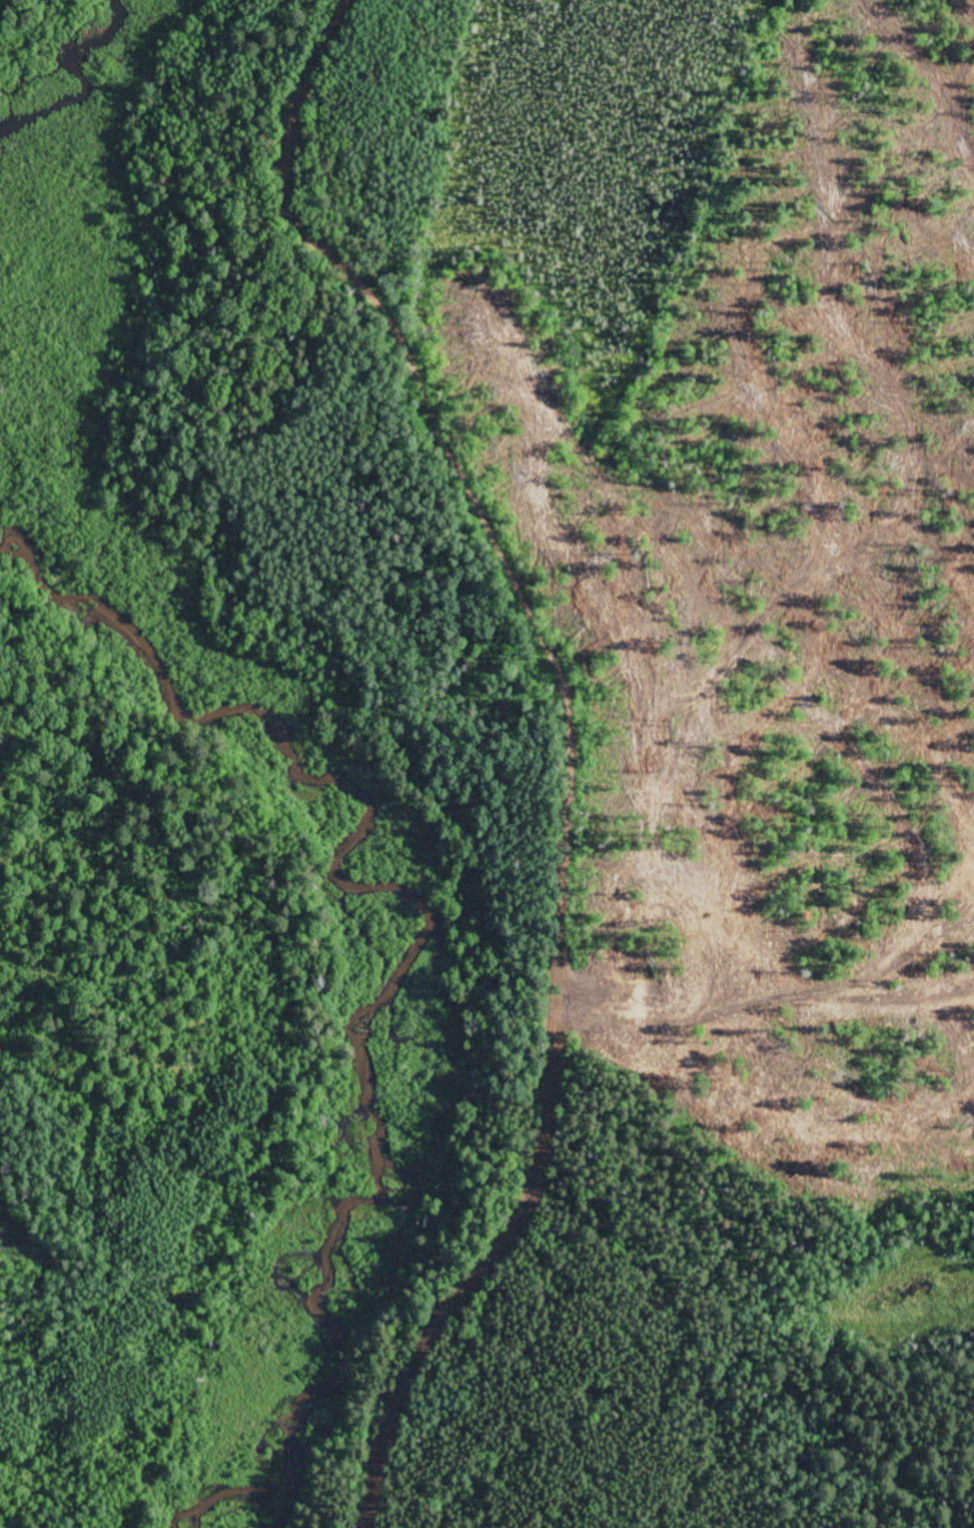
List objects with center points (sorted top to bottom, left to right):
road: (578, 735)

